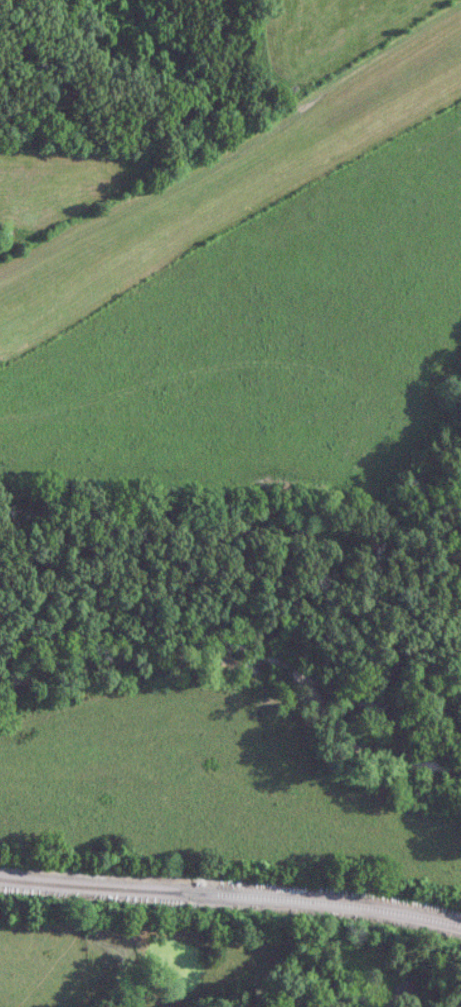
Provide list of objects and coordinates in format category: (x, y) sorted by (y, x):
airport runway: (230, 163)
railway: (231, 895)

